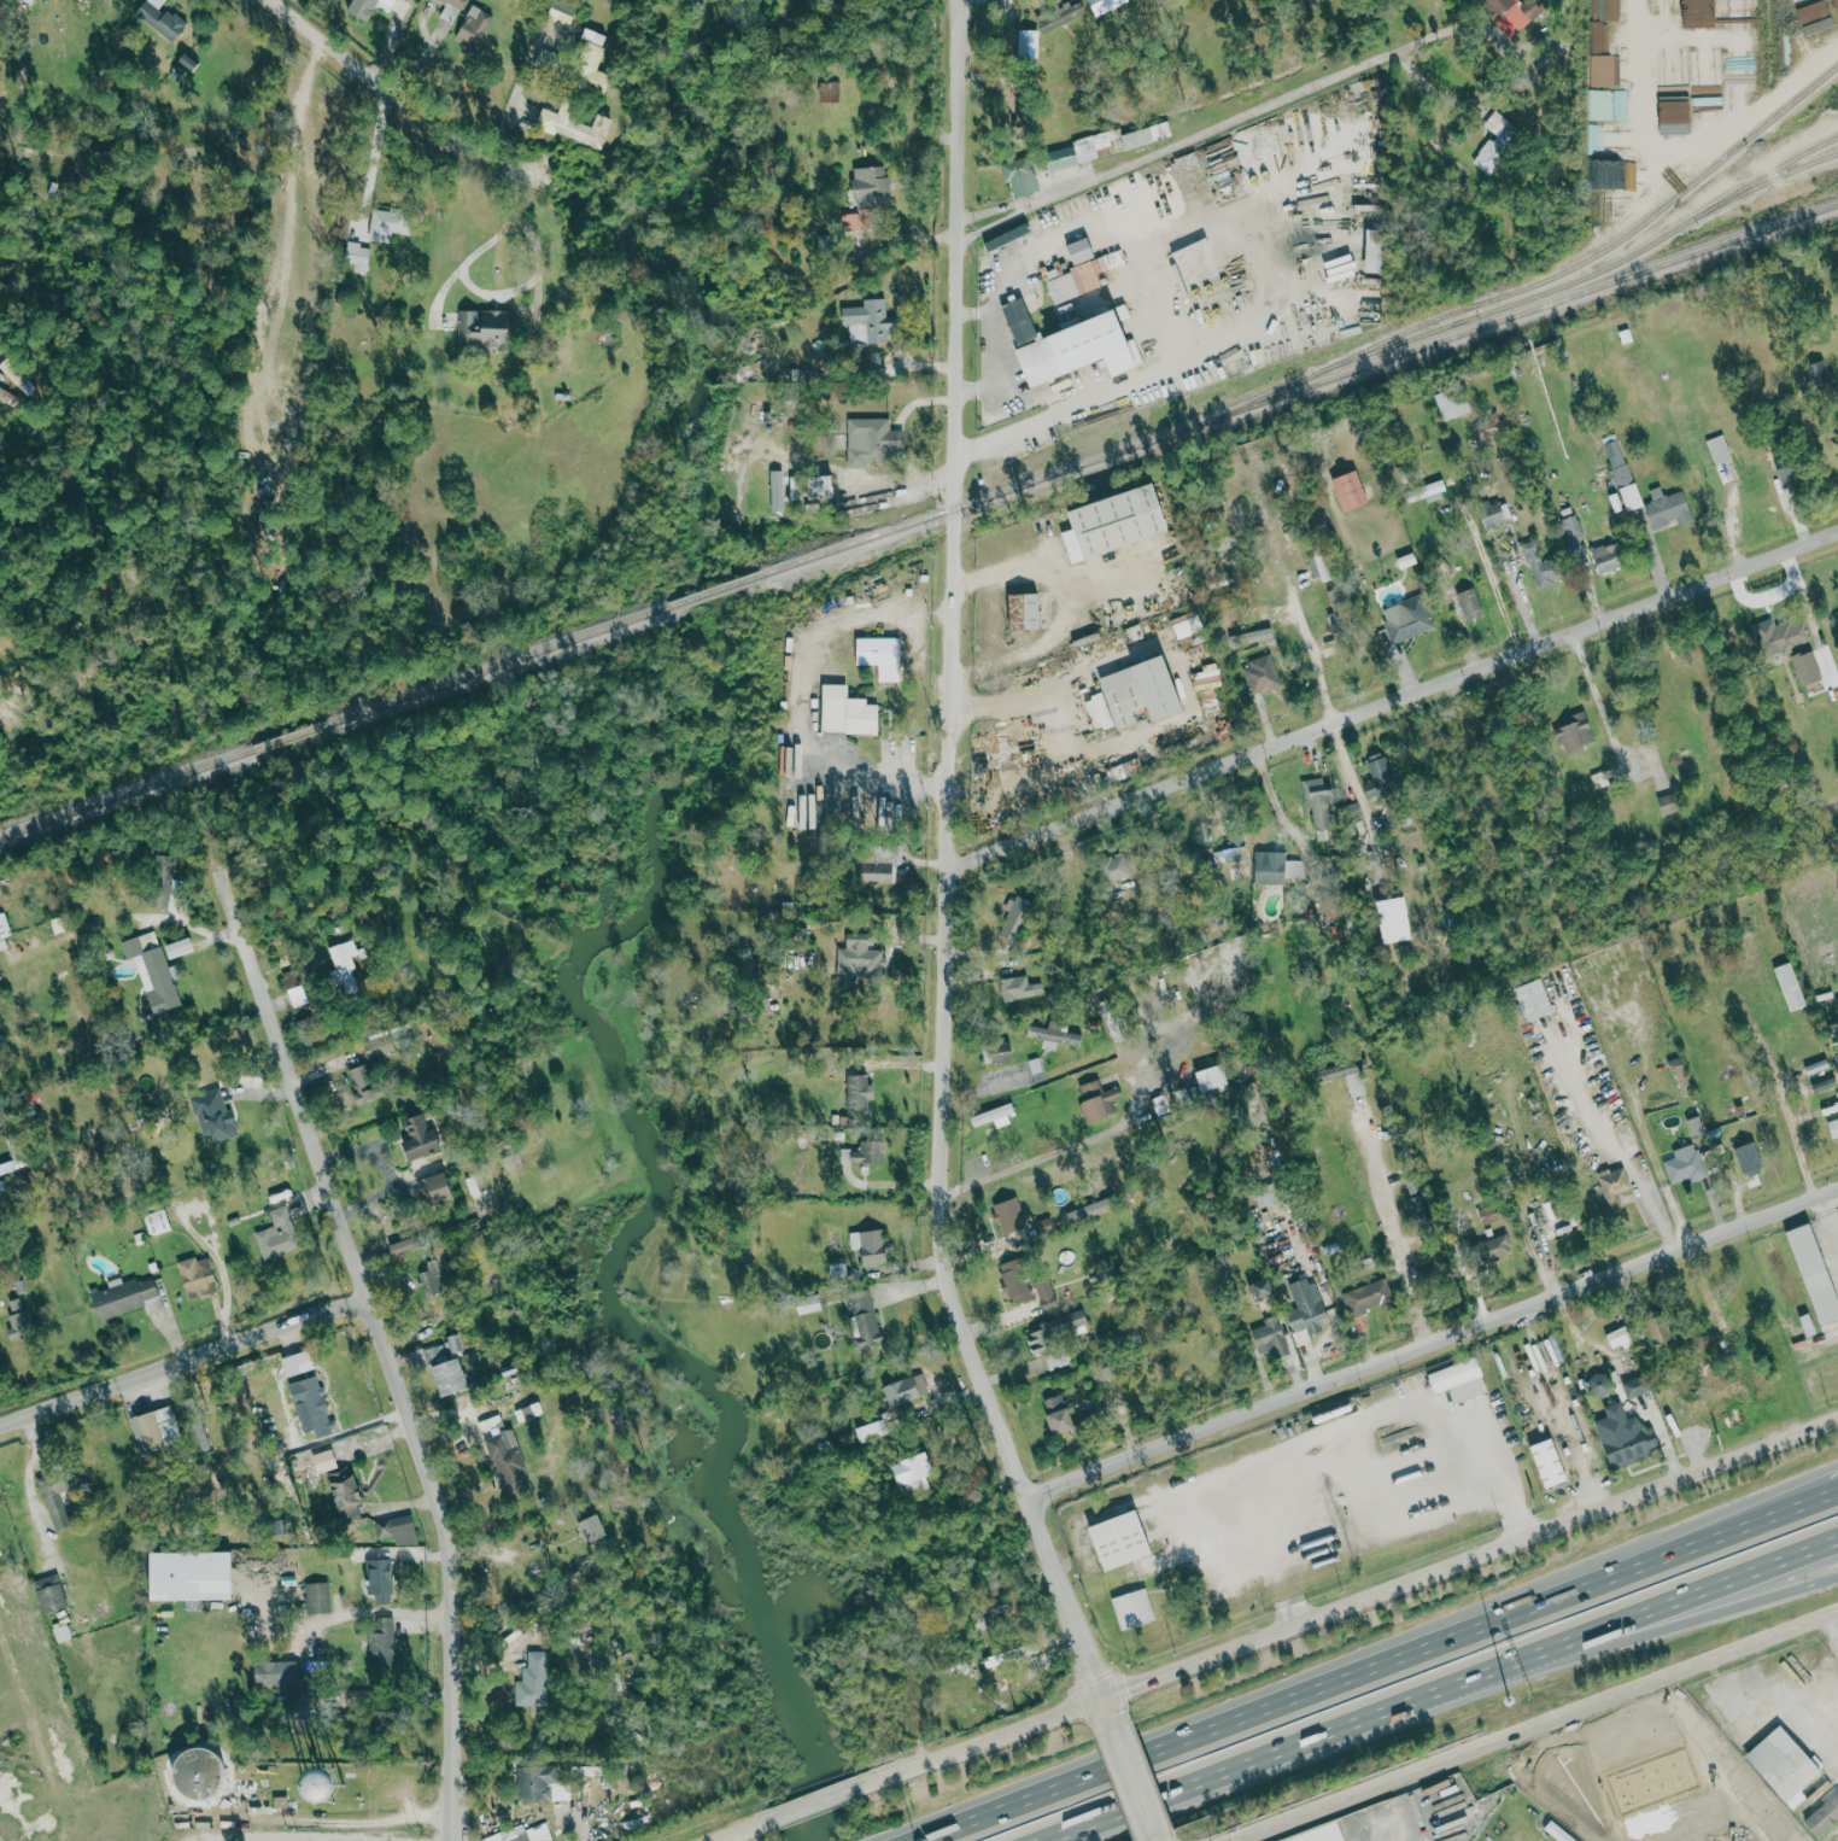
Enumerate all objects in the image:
building: (368, 7)
building: (450, 10)
road: (960, 11)
building: (1510, 13)
building: (1055, 17)
building: (160, 18)
building: (473, 25)
building: (1028, 41)
building: (590, 60)
road: (1359, 65)
building: (1708, 80)
building: (830, 90)
road: (404, 103)
building: (1026, 110)
building: (1674, 116)
road: (923, 119)
road: (294, 123)
building: (574, 124)
building: (1146, 134)
building: (1495, 140)
railway: (1790, 156)
building: (1061, 157)
road: (373, 160)
building: (1020, 175)
building: (867, 195)
road: (1005, 204)
road: (1366, 206)
road: (1006, 216)
building: (388, 223)
building: (1005, 233)
railway: (1612, 241)
building: (827, 242)
building: (1081, 249)
building: (1375, 250)
building: (357, 256)
building: (1070, 280)
road: (473, 285)
railway: (1541, 292)
road: (996, 296)
building: (866, 327)
building: (484, 328)
building: (1071, 343)
road: (982, 374)
building: (1820, 376)
railway: (1298, 387)
building: (1452, 402)
building: (1489, 428)
building: (871, 440)
road: (972, 449)
building: (1719, 449)
road: (1031, 456)
building: (1616, 461)
building: (1790, 472)
building: (823, 485)
road: (1153, 486)
building: (777, 490)
building: (1350, 490)
building: (1427, 491)
building: (1631, 496)
building: (1667, 508)
building: (1494, 513)
building: (1116, 522)
building: (1571, 527)
building: (1606, 556)
building: (1539, 563)
building: (1318, 565)
road: (1000, 571)
road: (1492, 579)
railway: (714, 590)
building: (1469, 603)
building: (1337, 607)
building: (1024, 610)
building: (1406, 619)
building: (1187, 624)
building: (1779, 636)
road: (1003, 644)
building: (880, 655)
road: (1317, 665)
building: (1808, 666)
building: (1260, 674)
building: (1142, 691)
road: (800, 695)
road: (1009, 695)
road: (1596, 700)
road: (1391, 706)
building: (847, 712)
building: (1099, 712)
railway: (334, 720)
building: (1575, 732)
building: (1380, 776)
building: (1667, 803)
road: (1275, 806)
building: (1319, 807)
building: (1223, 857)
building: (1114, 867)
building: (1275, 867)
building: (873, 872)
road: (941, 875)
building: (158, 899)
building: (1014, 919)
building: (1394, 919)
building: (4, 929)
building: (860, 953)
building: (344, 966)
building: (152, 970)
building: (294, 987)
building: (1018, 988)
building: (1534, 999)
building: (1053, 1034)
building: (376, 1045)
building: (996, 1051)
building: (1681, 1075)
building: (1212, 1077)
building: (1322, 1079)
building: (363, 1083)
road: (989, 1086)
building: (859, 1092)
building: (1099, 1100)
building: (212, 1116)
building: (1833, 1128)
building: (421, 1138)
building: (864, 1152)
building: (1749, 1158)
road: (1025, 1164)
building: (1685, 1165)
building: (1415, 1183)
building: (1614, 1183)
building: (434, 1188)
building: (1266, 1197)
building: (1088, 1210)
building: (1420, 1214)
building: (1489, 1214)
road: (1828, 1217)
building: (157, 1222)
building: (1012, 1222)
road: (1391, 1228)
building: (277, 1234)
building: (402, 1245)
building: (870, 1246)
building: (1493, 1247)
building: (1814, 1273)
building: (197, 1276)
building: (1015, 1280)
building: (1260, 1291)
building: (1046, 1294)
building: (1364, 1296)
building: (124, 1297)
building: (808, 1304)
building: (1306, 1310)
building: (21, 1320)
building: (865, 1320)
building: (1058, 1328)
building: (1658, 1331)
building: (1270, 1338)
building: (1619, 1338)
road: (1433, 1345)
road: (177, 1355)
building: (1056, 1360)
building: (297, 1363)
building: (443, 1364)
road: (382, 1366)
building: (1459, 1380)
building: (1599, 1385)
building: (1635, 1386)
building: (906, 1390)
building: (311, 1405)
road: (1383, 1413)
building: (1065, 1414)
building: (195, 1424)
building: (154, 1430)
building: (868, 1430)
building: (1623, 1437)
building: (323, 1461)
building: (508, 1463)
building: (1549, 1463)
building: (913, 1472)
building: (345, 1491)
building: (55, 1502)
building: (591, 1529)
building: (396, 1530)
building: (1120, 1541)
building: (191, 1577)
building: (380, 1580)
building: (49, 1594)
building: (316, 1597)
road: (1688, 1600)
road: (1356, 1602)
building: (1132, 1608)
road: (1836, 1621)
road: (1688, 1623)
building: (381, 1643)
road: (1377, 1666)
building: (275, 1673)
building: (533, 1681)
road: (1807, 1718)
road: (1536, 1728)
road: (1290, 1749)
building: (1784, 1765)
building: (200, 1771)
water tower: (197, 1772)
building: (534, 1781)
road: (1131, 1782)
water tower: (241, 1784)
building: (242, 1784)
water tower: (324, 1786)
building: (280, 1800)
road: (815, 1802)
building: (1824, 1814)
building: (523, 1833)
road: (737, 1833)
building: (1557, 1833)
road: (1152, 1840)

